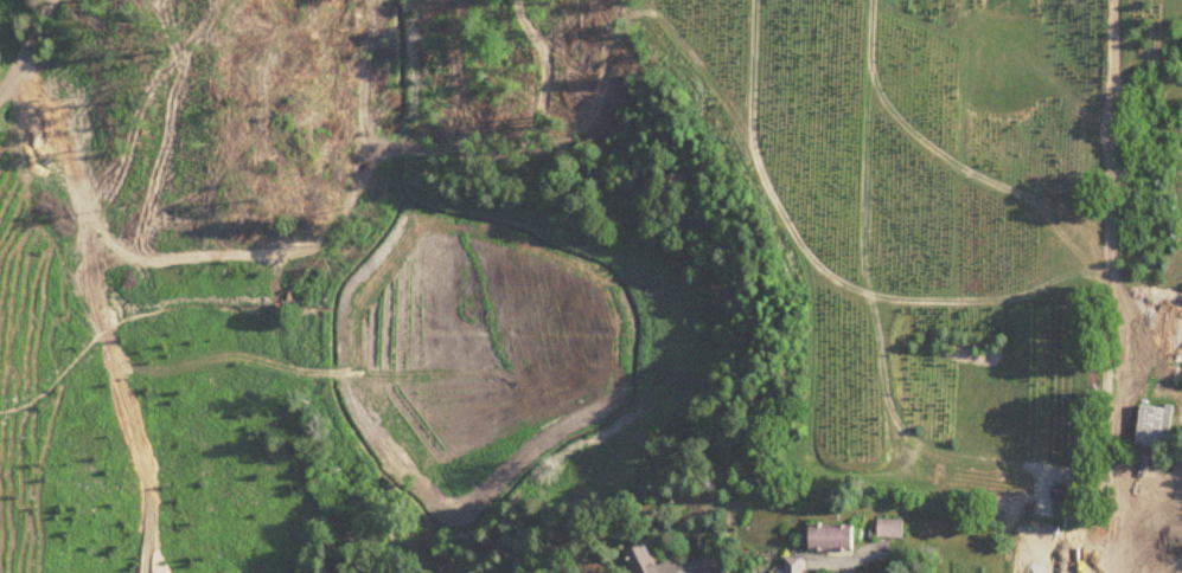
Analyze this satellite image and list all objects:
road: (14, 34)
building: (1157, 430)
building: (892, 529)
building: (833, 540)
building: (650, 562)
building: (794, 566)

